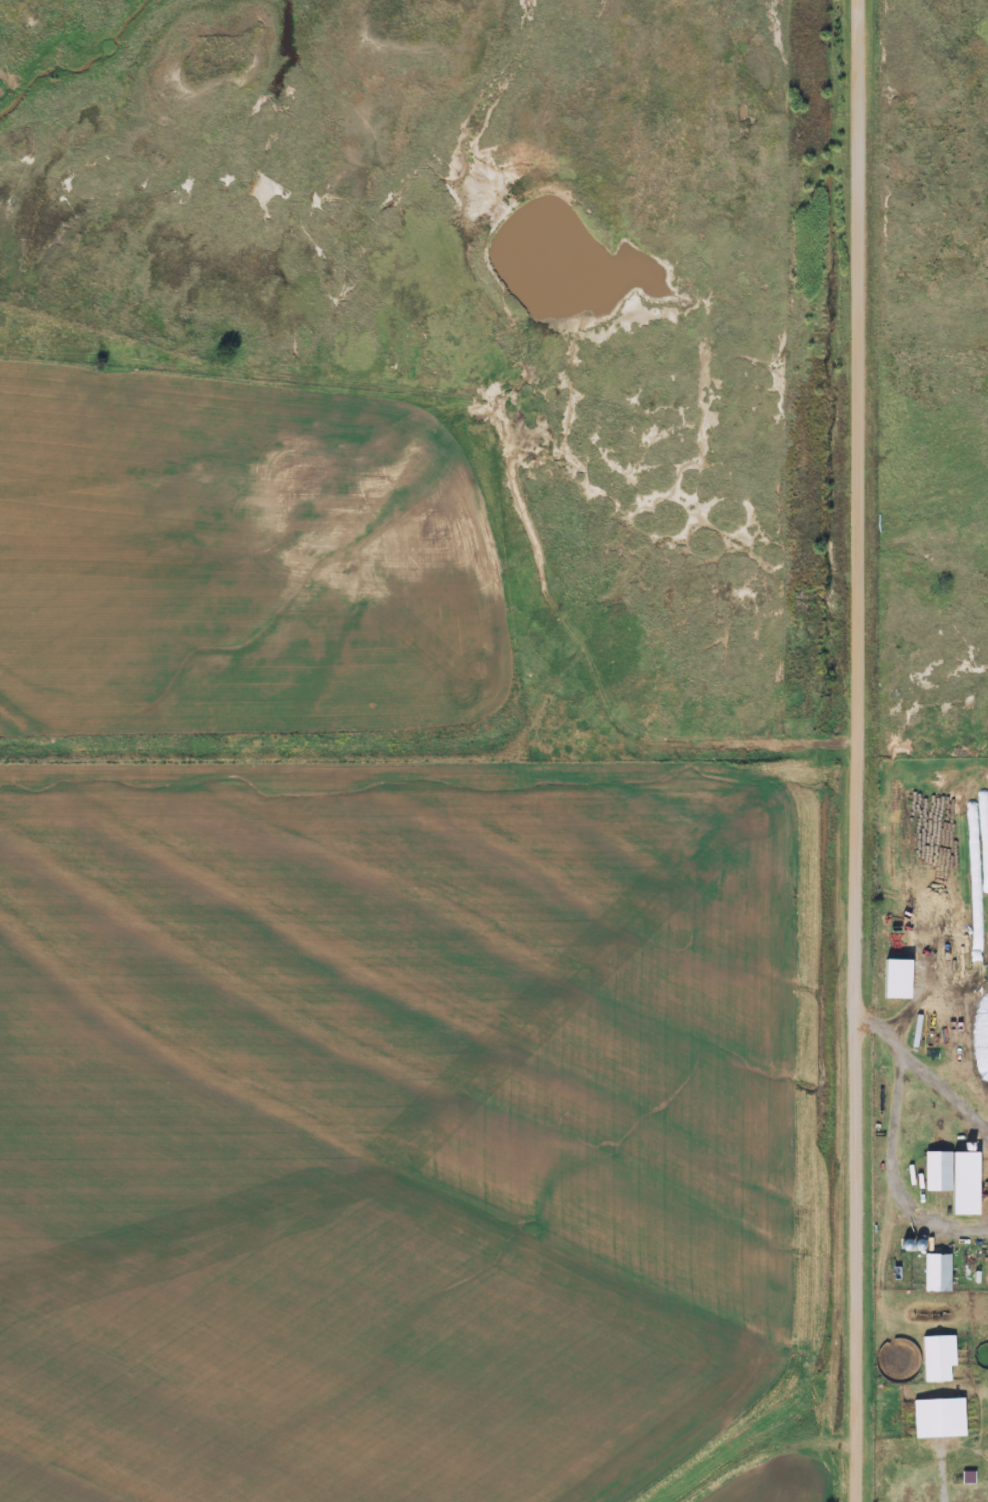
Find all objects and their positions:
road: (855, 751)
building: (937, 1172)
building: (937, 1273)
building: (938, 1359)
building: (939, 1419)

